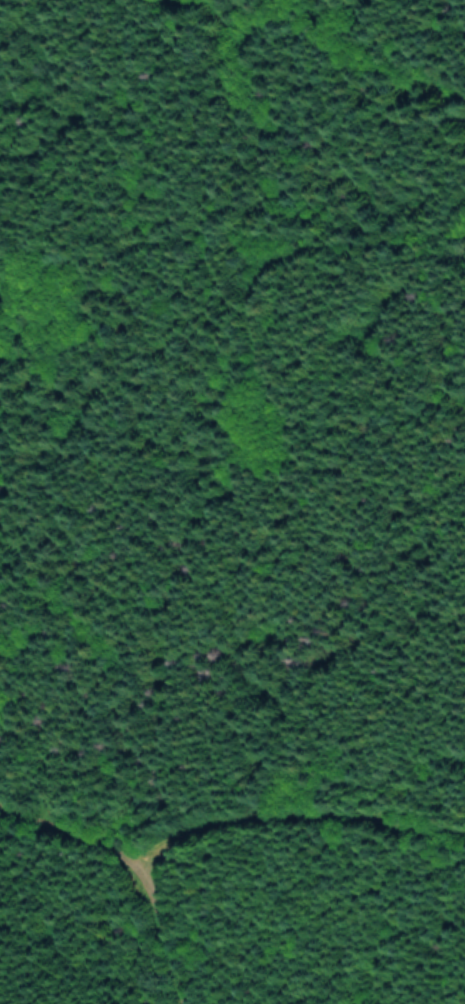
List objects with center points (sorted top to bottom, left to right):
road: (221, 862)
road: (155, 939)

